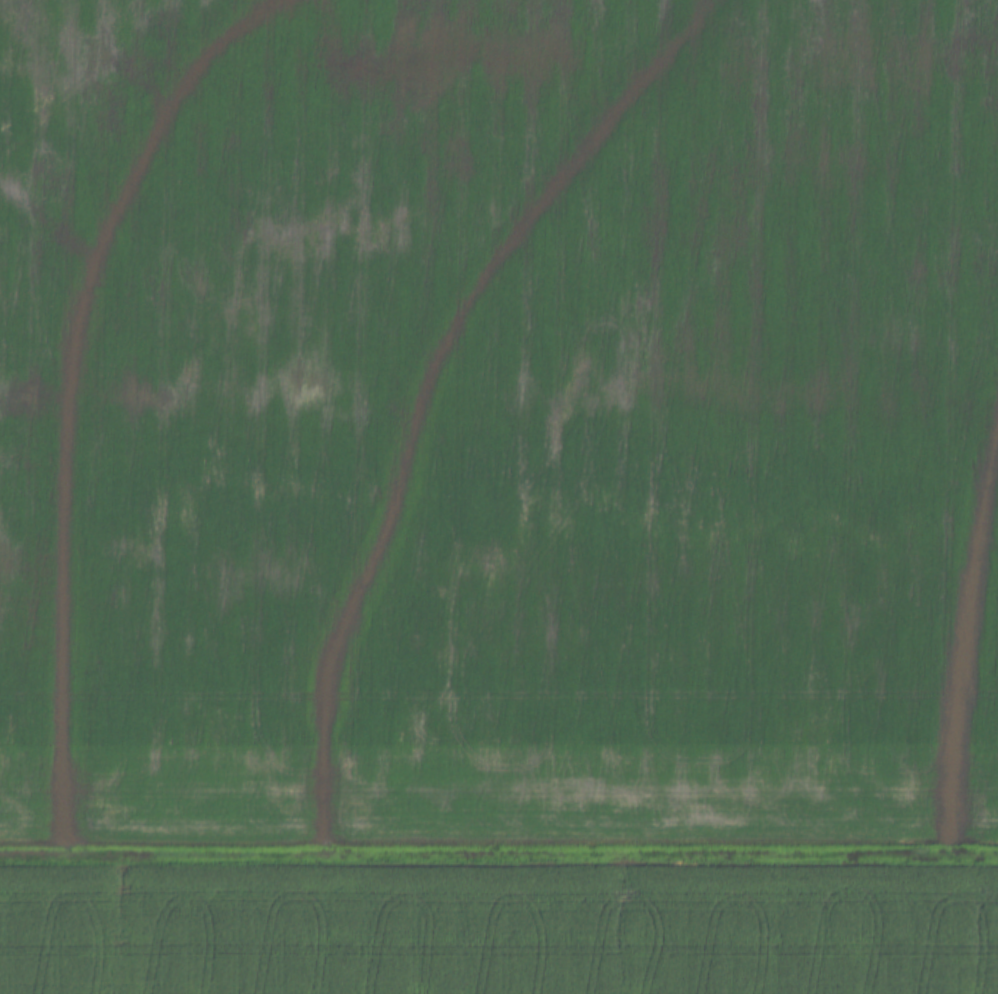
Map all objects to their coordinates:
crop: (498, 419)
crop: (500, 931)

